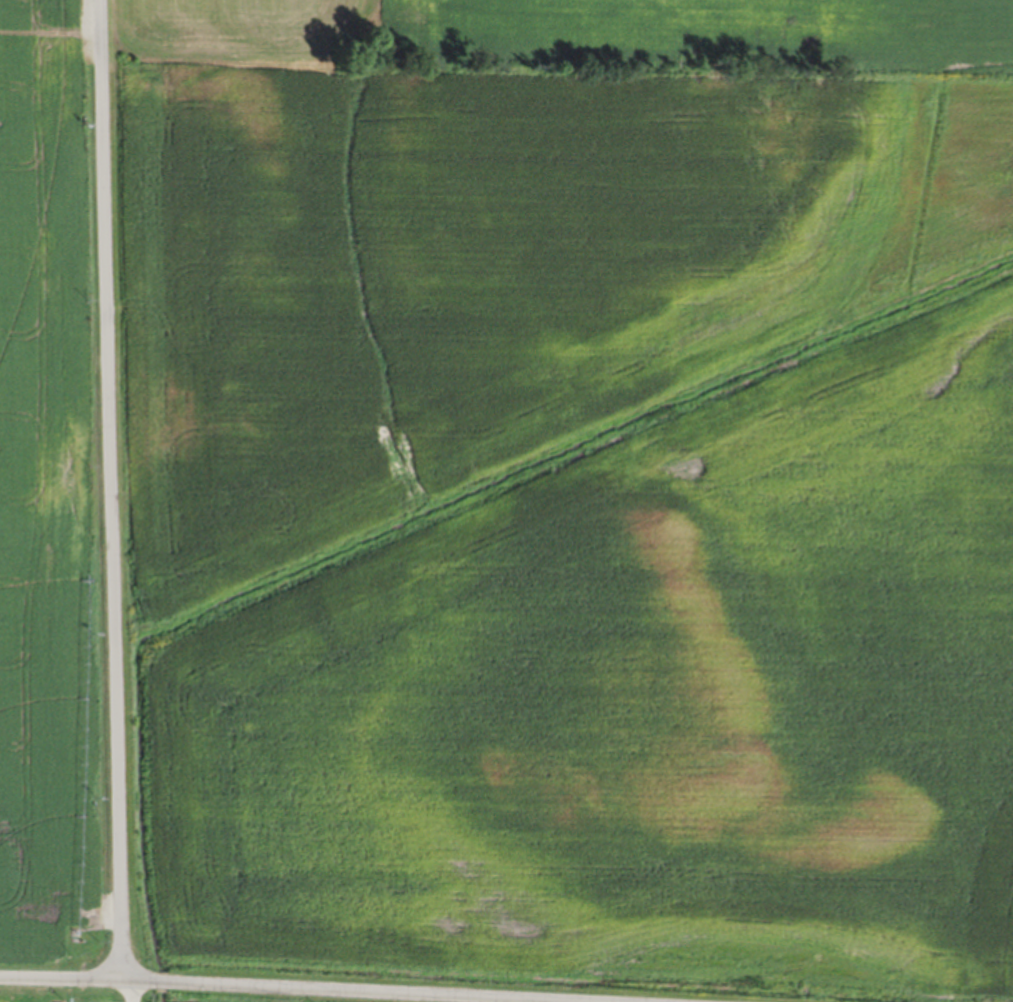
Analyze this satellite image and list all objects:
road: (113, 487)
road: (290, 986)
road: (126, 988)

